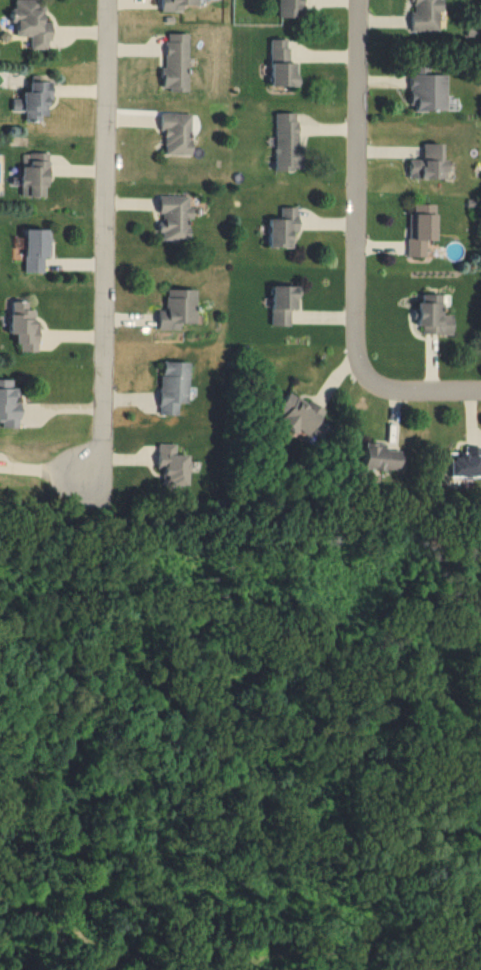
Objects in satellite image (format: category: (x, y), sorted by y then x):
building: (176, 5)
building: (292, 10)
building: (426, 16)
building: (31, 24)
building: (176, 65)
building: (282, 69)
building: (427, 91)
building: (36, 103)
building: (177, 134)
building: (286, 145)
building: (428, 166)
building: (35, 178)
road: (358, 191)
building: (175, 220)
building: (284, 231)
building: (422, 232)
road: (108, 241)
building: (36, 252)
building: (283, 305)
building: (178, 310)
building: (432, 317)
building: (24, 330)
building: (173, 389)
road: (423, 392)
building: (9, 407)
building: (296, 417)
building: (379, 460)
building: (464, 465)
building: (173, 468)

